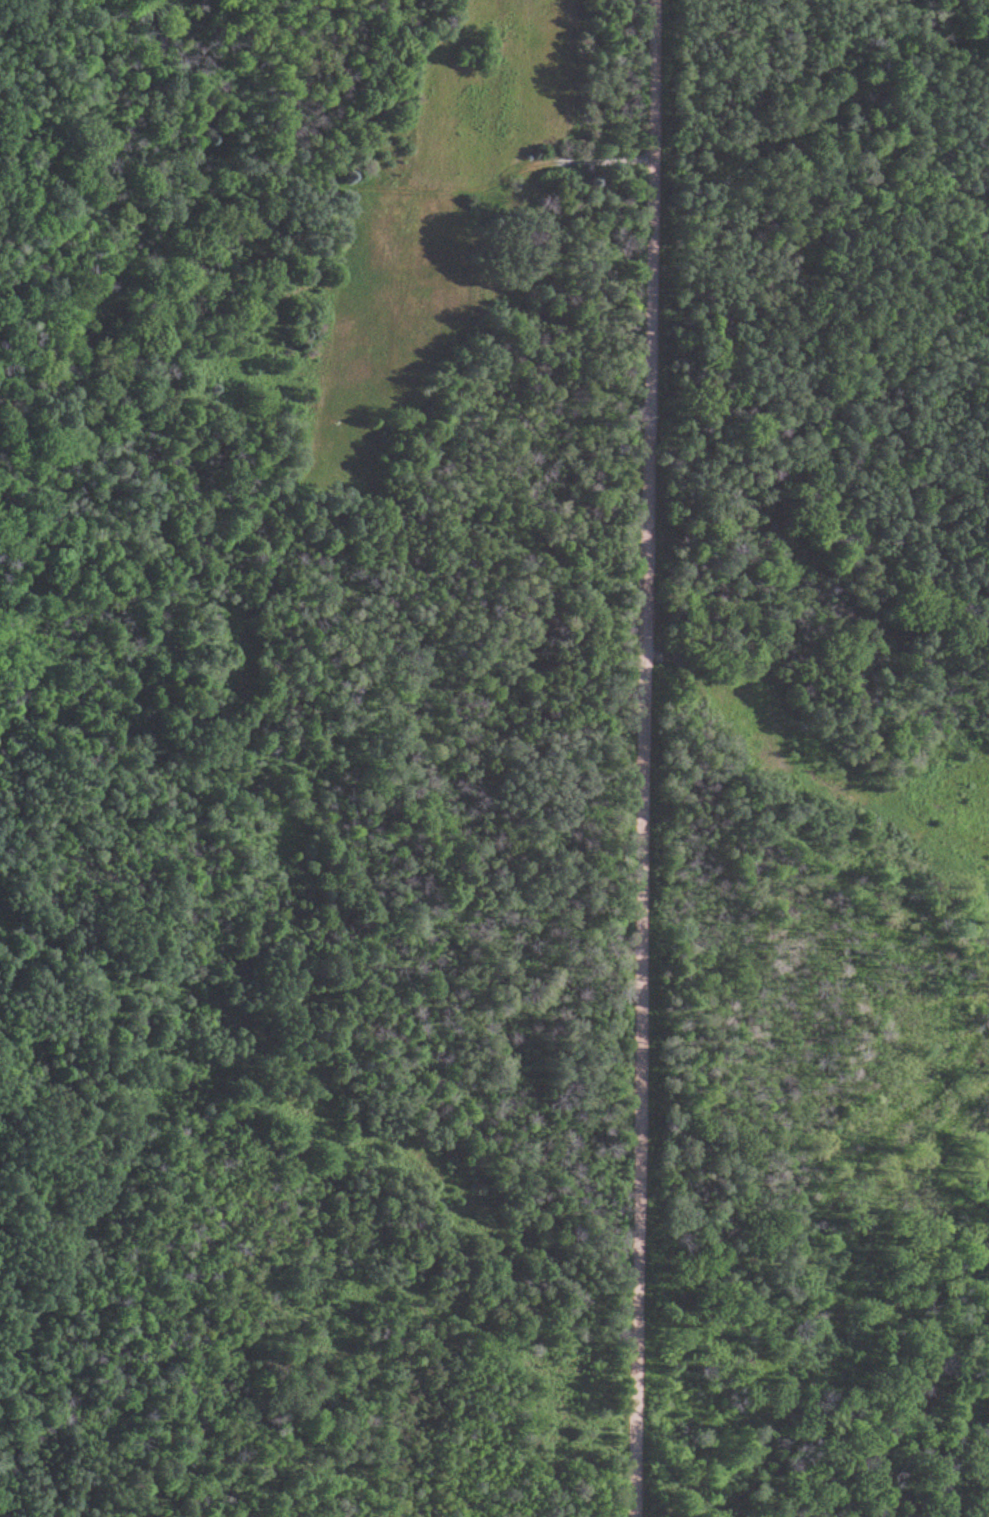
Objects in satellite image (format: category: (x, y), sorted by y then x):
road: (651, 758)
road: (861, 1417)

